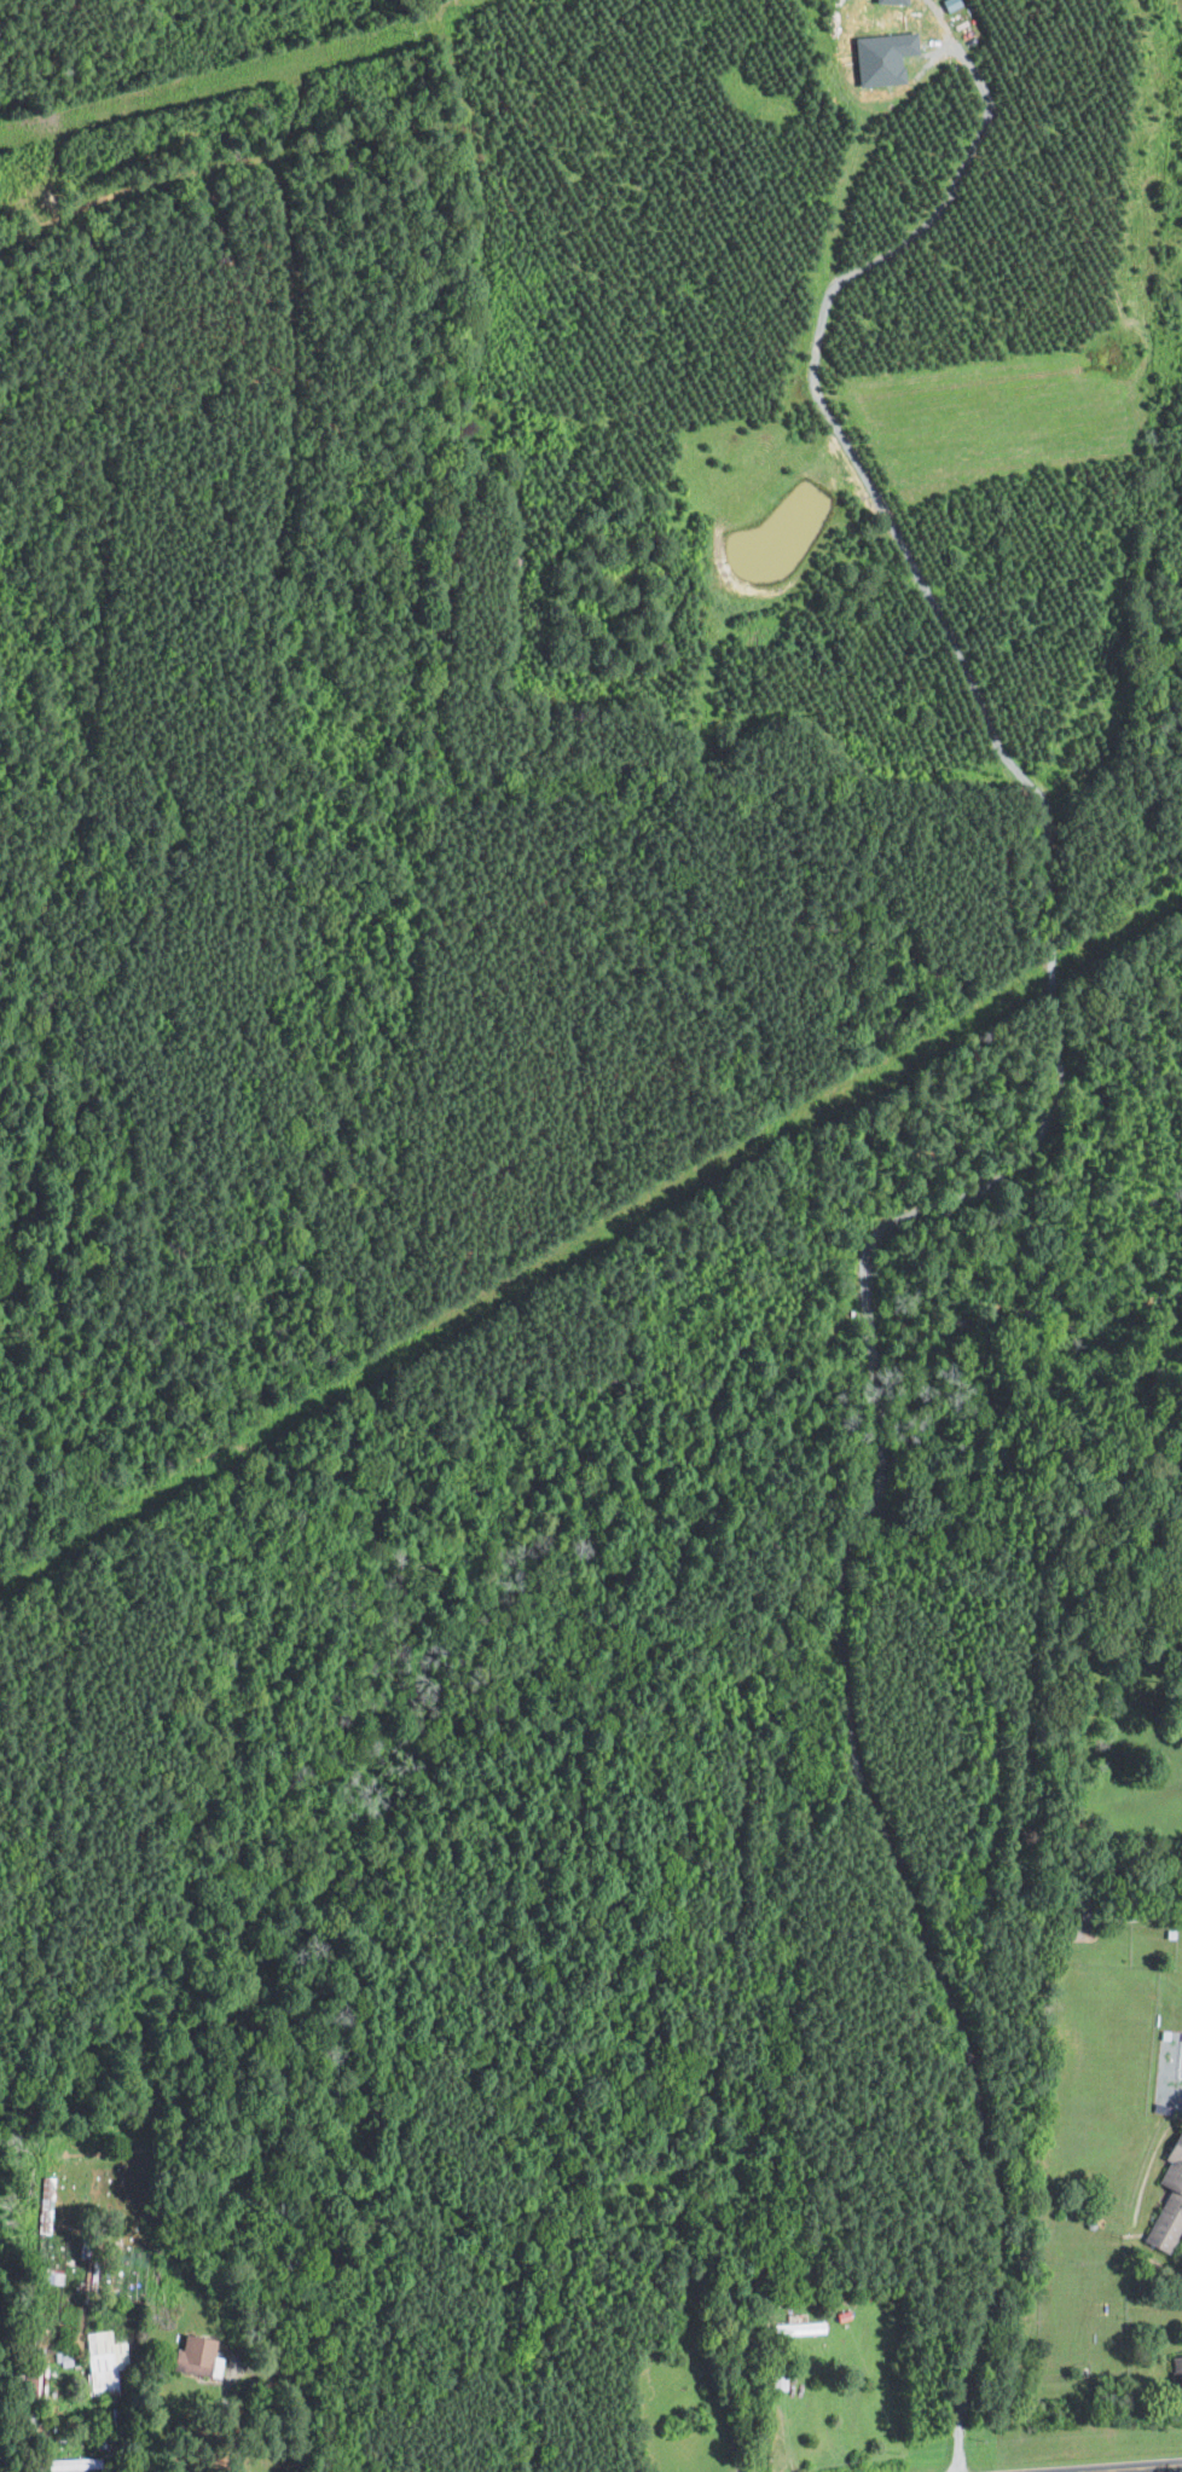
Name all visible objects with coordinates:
building: (890, 0)
building: (949, 2)
building: (881, 54)
building: (1167, 2199)
building: (796, 2328)
building: (191, 2356)
building: (64, 2358)
building: (103, 2362)
building: (1176, 2364)
building: (778, 2381)
road: (308, 2413)
building: (62, 2464)
road: (1085, 2465)

